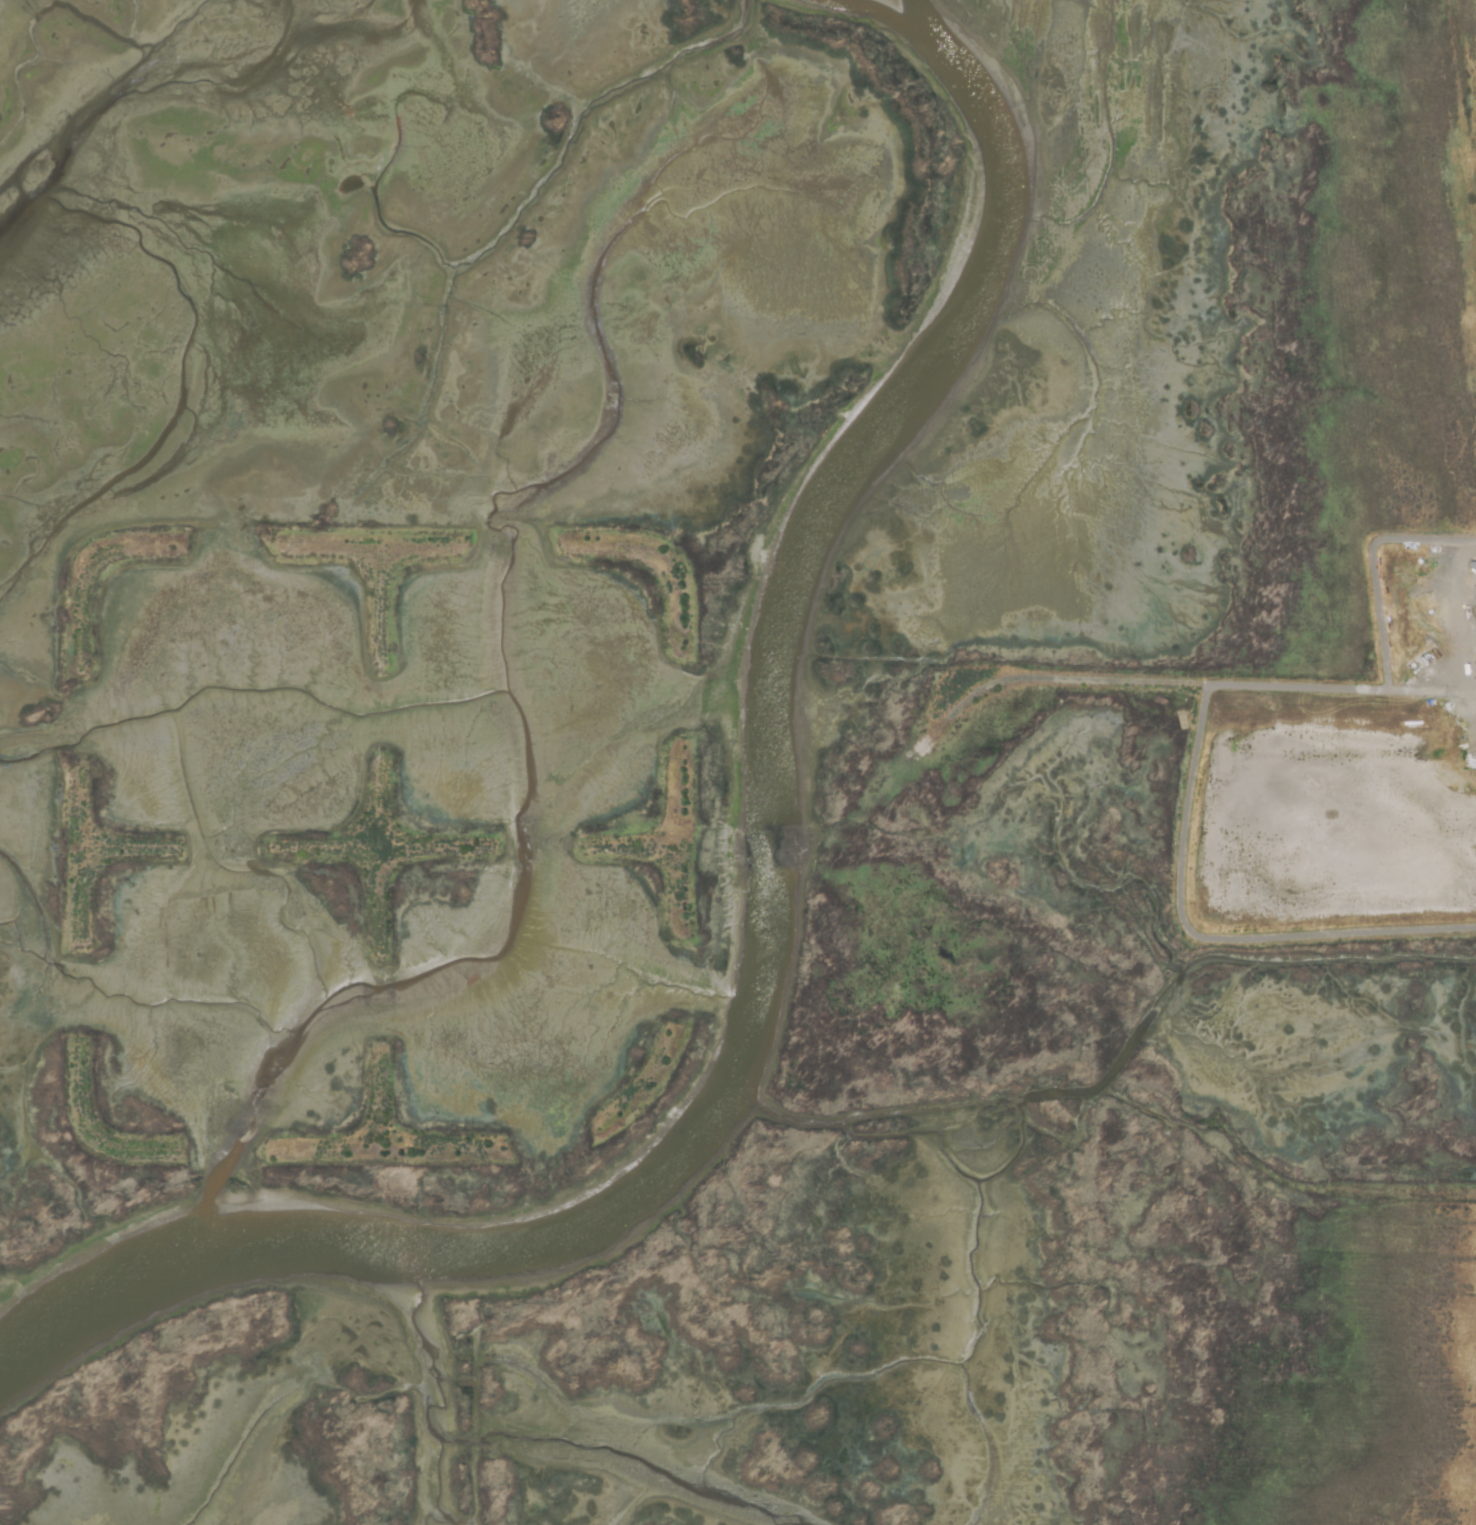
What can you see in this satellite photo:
road: (1376, 607)

